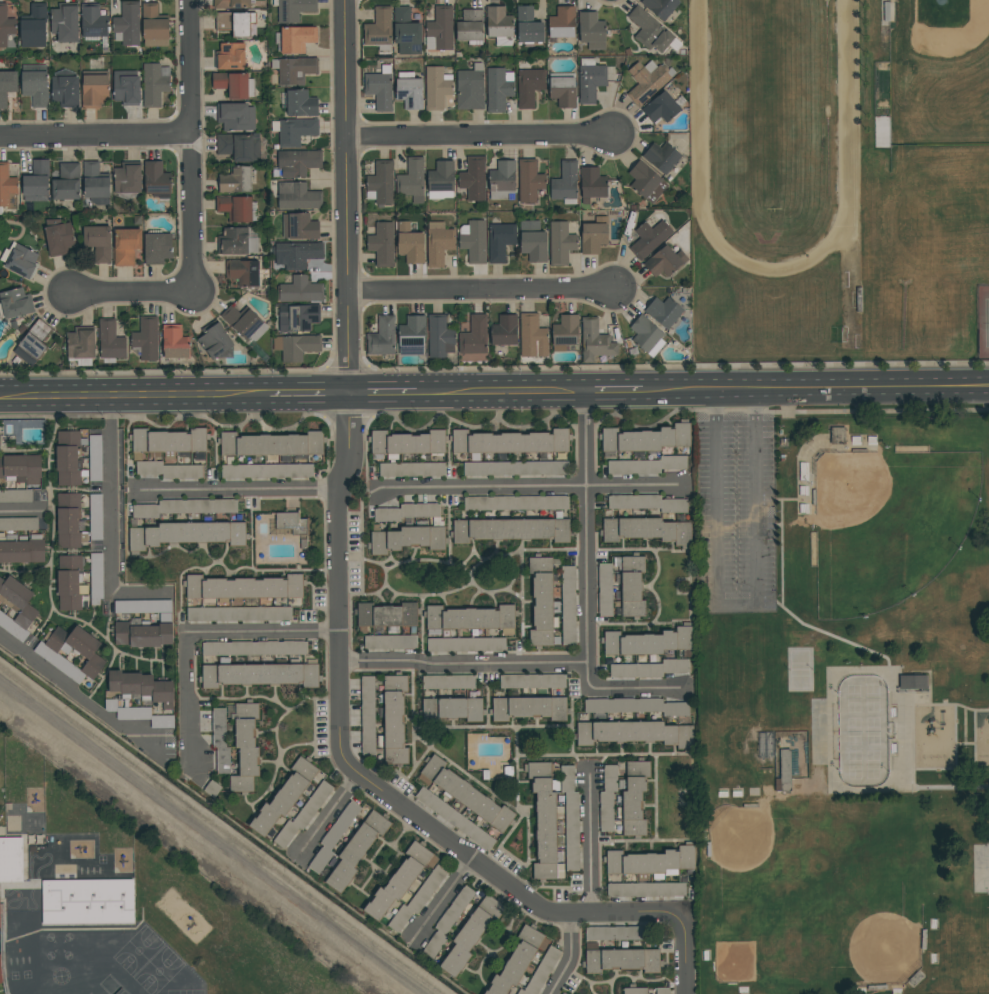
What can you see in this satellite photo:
building: (232, 3)
building: (660, 7)
building: (293, 10)
building: (65, 22)
building: (562, 22)
building: (93, 23)
building: (235, 23)
building: (127, 24)
building: (6, 25)
building: (499, 25)
building: (528, 25)
building: (33, 26)
building: (154, 26)
building: (470, 27)
building: (379, 29)
building: (440, 29)
building: (591, 30)
building: (406, 31)
building: (651, 32)
building: (295, 39)
building: (230, 56)
building: (294, 70)
building: (590, 80)
building: (647, 80)
building: (154, 84)
building: (234, 84)
building: (7, 86)
building: (35, 87)
building: (126, 87)
building: (437, 87)
building: (528, 87)
building: (379, 88)
building: (470, 88)
building: (498, 89)
building: (563, 89)
building: (65, 90)
building: (94, 90)
building: (409, 91)
building: (301, 103)
building: (661, 108)
building: (235, 116)
building: (294, 130)
road: (95, 134)
road: (480, 137)
building: (239, 146)
building: (662, 157)
building: (298, 162)
building: (128, 177)
building: (156, 178)
building: (473, 178)
building: (235, 180)
building: (411, 180)
building: (441, 180)
building: (502, 180)
track: (853, 180)
building: (36, 181)
building: (529, 181)
building: (380, 182)
building: (646, 182)
building: (66, 183)
building: (96, 183)
building: (565, 183)
building: (592, 183)
building: (6, 185)
building: (298, 196)
road: (192, 202)
track: (701, 207)
building: (235, 208)
building: (299, 226)
building: (594, 235)
building: (59, 237)
building: (649, 238)
building: (473, 240)
building: (236, 241)
building: (500, 241)
building: (532, 241)
building: (98, 242)
building: (409, 243)
building: (438, 243)
building: (561, 243)
building: (381, 244)
building: (126, 245)
building: (157, 247)
building: (297, 254)
building: (20, 260)
building: (665, 261)
building: (244, 272)
building: (301, 290)
road: (481, 291)
building: (15, 303)
building: (663, 311)
building: (297, 317)
park: (984, 321)
building: (244, 322)
building: (504, 330)
building: (565, 332)
building: (412, 335)
building: (474, 336)
building: (647, 336)
building: (382, 337)
building: (439, 337)
building: (532, 337)
building: (146, 338)
building: (110, 340)
building: (595, 341)
building: (174, 342)
building: (216, 342)
building: (33, 343)
building: (81, 345)
building: (296, 347)
road: (872, 391)
road: (725, 392)
road: (615, 393)
road: (669, 393)
road: (501, 394)
road: (382, 395)
road: (309, 396)
road: (134, 399)
building: (644, 440)
building: (169, 443)
building: (406, 443)
building: (510, 443)
building: (272, 445)
building: (67, 458)
building: (95, 458)
building: (647, 465)
building: (516, 468)
building: (20, 469)
building: (412, 469)
building: (168, 470)
road: (776, 470)
building: (266, 471)
road: (530, 488)
road: (241, 491)
building: (15, 496)
road: (113, 497)
building: (515, 502)
building: (648, 503)
building: (184, 507)
road: (19, 513)
building: (409, 513)
building: (69, 521)
building: (292, 523)
building: (18, 524)
park: (890, 526)
building: (511, 530)
building: (646, 530)
building: (187, 534)
building: (406, 539)
road: (587, 542)
building: (22, 549)
building: (71, 583)
building: (96, 585)
building: (631, 585)
building: (244, 587)
building: (605, 589)
road: (141, 595)
building: (17, 601)
building: (543, 602)
road: (738, 604)
building: (567, 605)
building: (142, 606)
building: (238, 613)
road: (338, 615)
building: (387, 617)
building: (470, 619)
building: (143, 634)
road: (264, 634)
building: (390, 642)
building: (647, 642)
building: (465, 644)
building: (77, 648)
building: (255, 648)
road: (463, 666)
building: (649, 669)
park: (801, 671)
building: (260, 674)
building: (532, 681)
building: (448, 682)
building: (914, 682)
building: (141, 687)
park: (848, 690)
road: (636, 691)
road: (79, 696)
road: (191, 699)
road: (947, 704)
building: (636, 706)
building: (528, 708)
building: (451, 709)
building: (143, 716)
building: (367, 716)
building: (394, 720)
road: (965, 726)
building: (864, 731)
building: (634, 733)
road: (975, 737)
building: (220, 740)
building: (245, 747)
road: (906, 760)
road: (955, 760)
road: (975, 762)
building: (784, 771)
building: (465, 794)
building: (284, 797)
building: (608, 798)
building: (632, 799)
road: (330, 814)
building: (303, 815)
building: (570, 817)
building: (454, 818)
building: (545, 821)
building: (333, 837)
road: (590, 846)
building: (357, 850)
building: (11, 860)
building: (650, 862)
park: (981, 869)
building: (400, 880)
building: (646, 889)
park: (814, 895)
building: (418, 899)
road: (444, 900)
building: (87, 902)
building: (448, 921)
building: (616, 933)
building: (471, 934)
road: (570, 956)
building: (518, 960)
building: (621, 960)
building: (541, 972)
building: (0, 974)
building: (634, 990)
building: (662, 991)
building: (563, 993)

